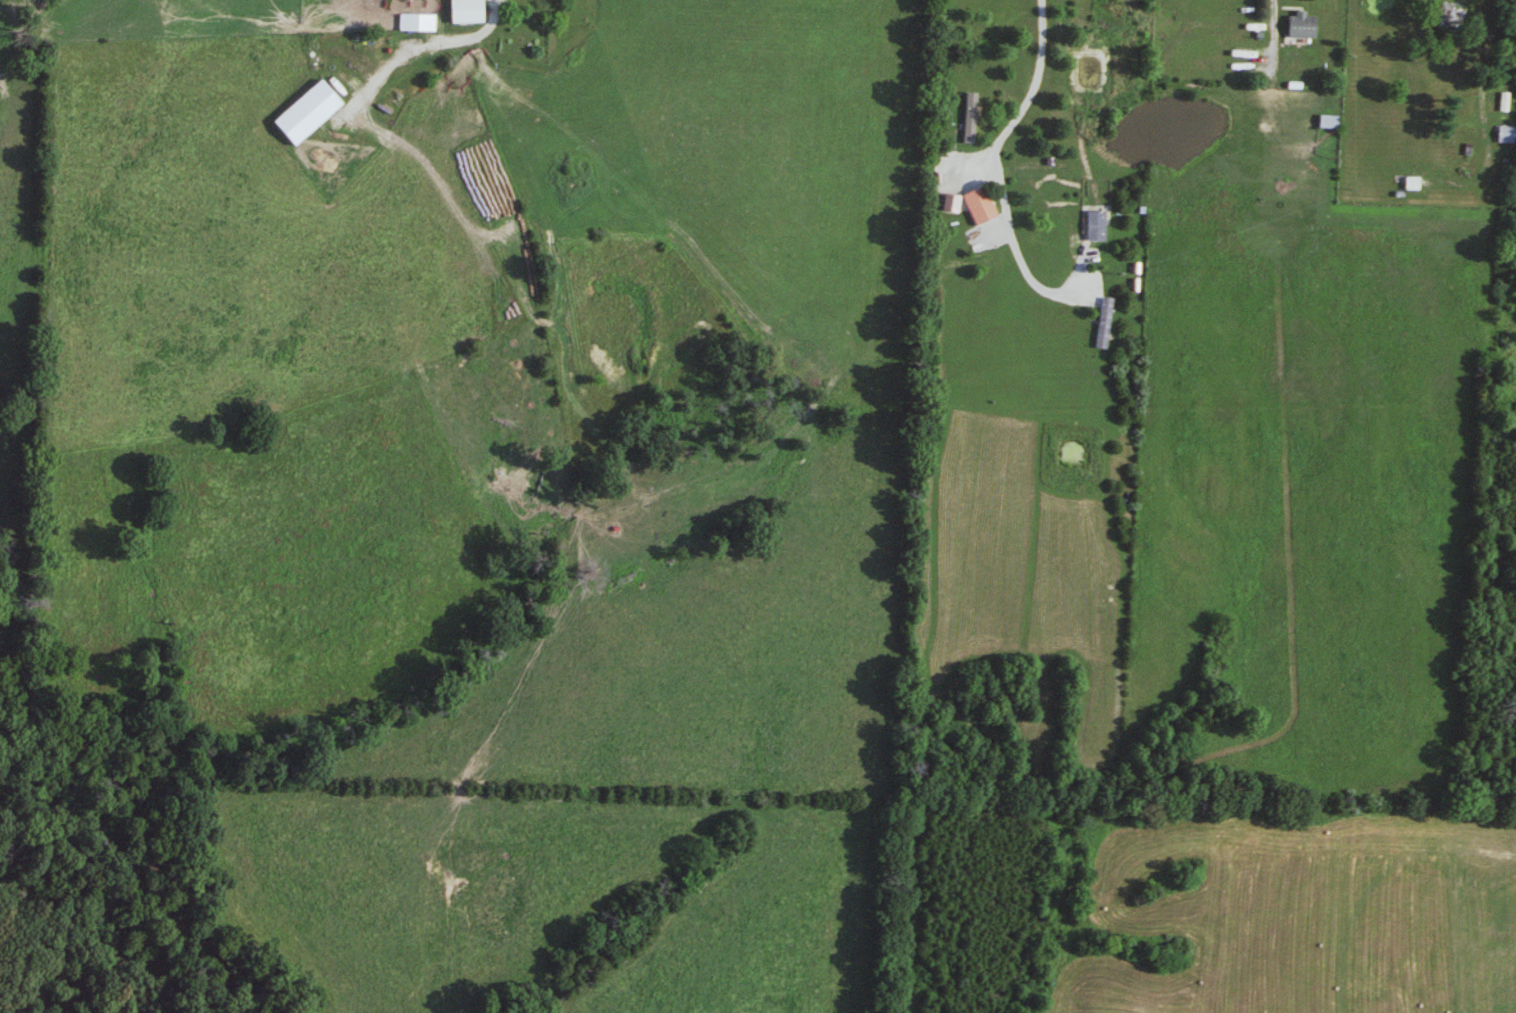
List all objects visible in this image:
building: (468, 11)
building: (1451, 17)
building: (428, 23)
building: (1303, 25)
road: (1267, 29)
road: (1492, 30)
road: (418, 44)
building: (311, 112)
building: (971, 117)
building: (1331, 121)
building: (1508, 133)
road: (992, 165)
building: (1405, 171)
building: (982, 206)

